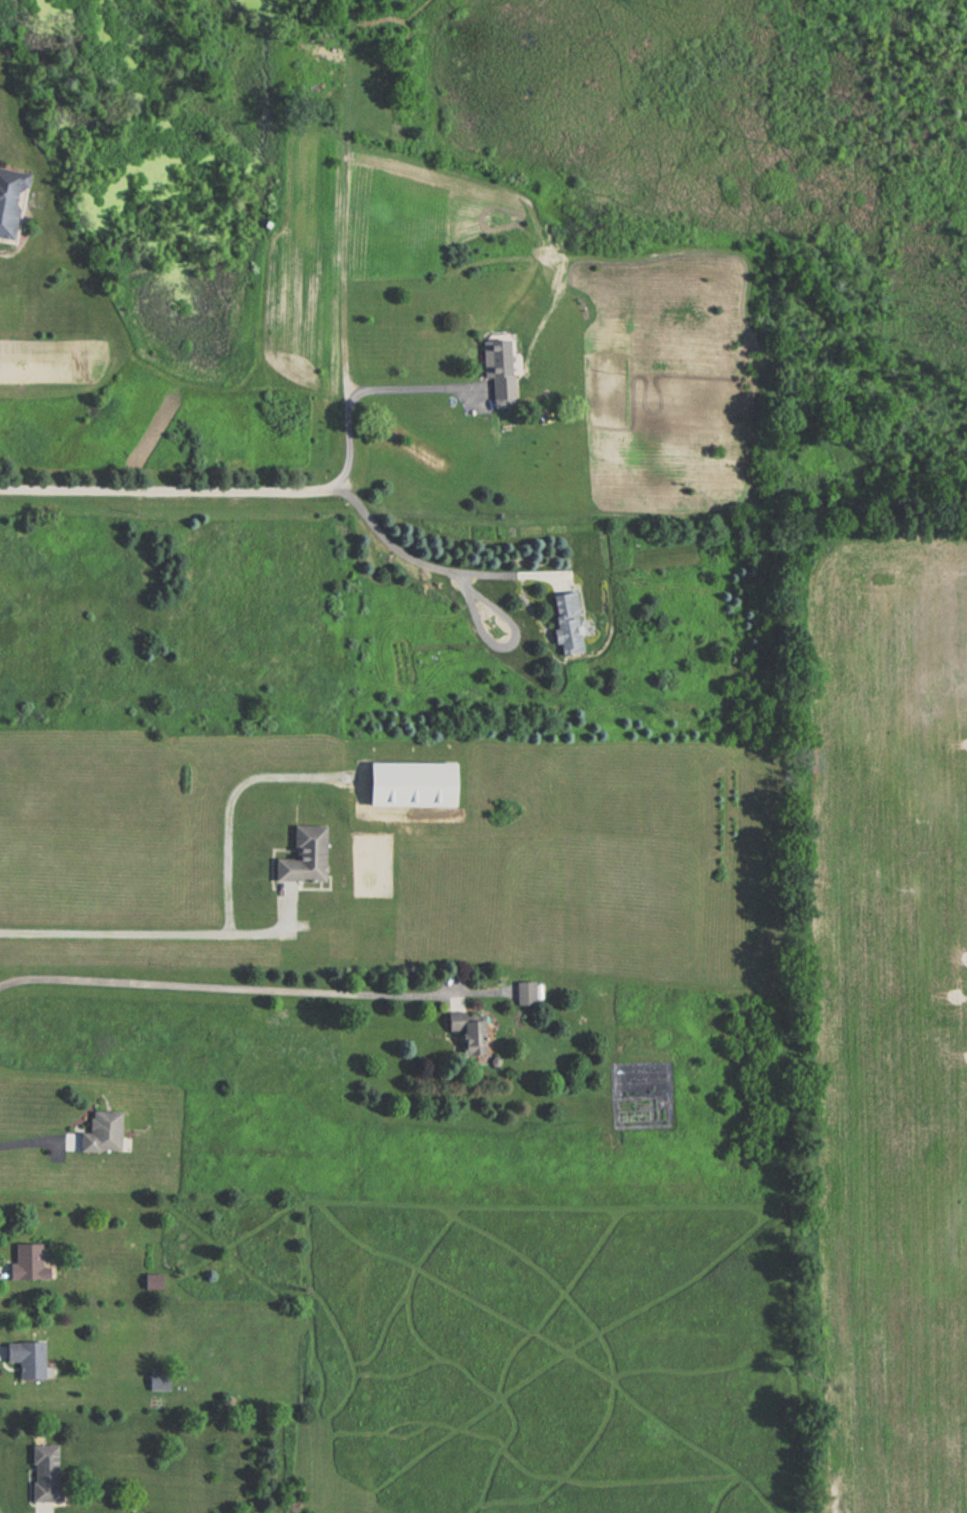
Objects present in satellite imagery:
building: (9, 202)
building: (496, 367)
road: (353, 398)
road: (286, 488)
building: (564, 622)
building: (407, 785)
road: (233, 802)
building: (301, 856)
road: (142, 924)
road: (213, 985)
building: (523, 994)
building: (469, 1036)
building: (99, 1133)
road: (29, 1139)
building: (25, 1262)
building: (151, 1281)
building: (24, 1357)
building: (157, 1379)
building: (43, 1473)

